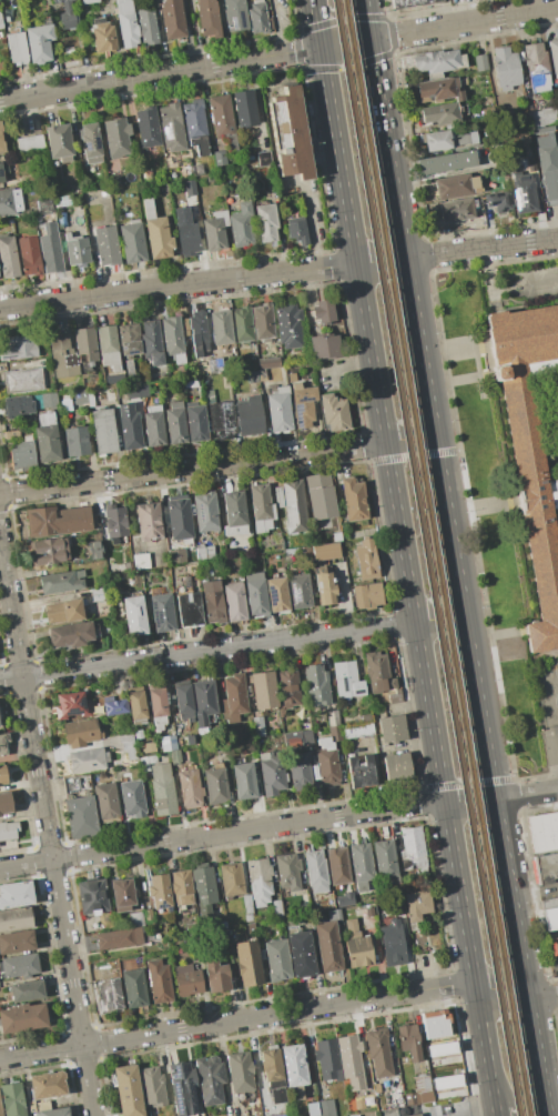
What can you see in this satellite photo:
building: (88, 1)
building: (410, 3)
building: (68, 14)
building: (235, 16)
building: (207, 17)
building: (257, 17)
building: (172, 19)
road: (365, 19)
road: (315, 22)
building: (1, 23)
building: (126, 23)
building: (146, 27)
road: (276, 27)
building: (102, 36)
traffic signals: (369, 39)
building: (38, 43)
traffic signals: (319, 47)
building: (18, 48)
road: (278, 53)
building: (554, 56)
building: (438, 62)
building: (483, 62)
building: (536, 67)
building: (507, 68)
road: (376, 87)
building: (439, 89)
building: (244, 109)
building: (442, 113)
building: (221, 114)
building: (508, 117)
building: (541, 117)
building: (195, 125)
building: (148, 128)
building: (172, 128)
building: (290, 132)
building: (116, 137)
building: (449, 139)
building: (1, 141)
building: (29, 143)
building: (59, 143)
building: (90, 145)
building: (220, 158)
building: (264, 161)
building: (448, 162)
building: (548, 163)
building: (532, 164)
building: (3, 169)
building: (148, 175)
building: (115, 181)
building: (455, 185)
building: (181, 189)
road: (395, 195)
building: (525, 195)
building: (95, 197)
building: (10, 201)
building: (63, 201)
building: (498, 201)
building: (44, 205)
building: (456, 210)
building: (79, 213)
building: (61, 219)
building: (266, 222)
building: (242, 225)
road: (310, 227)
building: (296, 229)
building: (215, 231)
building: (186, 232)
building: (156, 233)
building: (132, 241)
building: (105, 245)
road: (480, 248)
building: (77, 252)
building: (50, 253)
building: (9, 257)
building: (30, 257)
road: (379, 261)
road: (176, 285)
building: (324, 312)
building: (263, 322)
building: (242, 324)
building: (290, 324)
building: (220, 329)
building: (199, 333)
building: (186, 334)
building: (173, 341)
building: (151, 343)
building: (129, 345)
building: (108, 346)
building: (324, 346)
building: (18, 348)
building: (85, 348)
building: (62, 356)
building: (267, 363)
building: (215, 365)
building: (261, 374)
building: (22, 376)
building: (251, 376)
building: (292, 378)
building: (190, 384)
building: (142, 389)
building: (110, 392)
building: (207, 395)
building: (79, 396)
building: (49, 401)
building: (303, 404)
building: (18, 406)
building: (278, 410)
building: (334, 411)
building: (250, 416)
building: (45, 419)
building: (222, 420)
building: (195, 422)
building: (175, 424)
building: (154, 426)
building: (129, 429)
building: (103, 430)
building: (17, 434)
road: (409, 439)
building: (77, 441)
building: (45, 443)
building: (529, 448)
building: (22, 454)
road: (192, 467)
building: (318, 493)
building: (354, 500)
building: (292, 506)
building: (261, 509)
building: (235, 512)
building: (206, 513)
building: (181, 520)
building: (58, 521)
building: (150, 521)
building: (115, 522)
building: (50, 550)
building: (95, 550)
building: (293, 551)
building: (327, 551)
building: (205, 553)
building: (173, 557)
building: (307, 557)
railway: (424, 557)
railway: (434, 557)
building: (367, 560)
building: (142, 563)
road: (406, 579)
building: (62, 582)
building: (327, 589)
building: (298, 591)
building: (99, 593)
building: (255, 594)
building: (277, 595)
building: (368, 597)
road: (4, 600)
building: (213, 601)
building: (235, 601)
building: (187, 606)
building: (75, 610)
building: (162, 613)
building: (134, 615)
road: (439, 617)
building: (71, 634)
road: (206, 651)
building: (377, 671)
building: (346, 680)
building: (317, 685)
road: (550, 685)
road: (476, 686)
building: (288, 687)
building: (263, 693)
building: (233, 697)
building: (387, 697)
building: (184, 702)
building: (203, 703)
building: (71, 705)
building: (135, 705)
building: (114, 707)
building: (156, 707)
building: (0, 713)
building: (333, 718)
building: (263, 730)
building: (392, 730)
building: (357, 731)
building: (82, 732)
road: (550, 732)
building: (297, 738)
building: (190, 740)
building: (168, 743)
building: (4, 744)
building: (129, 745)
building: (149, 747)
building: (328, 757)
building: (87, 760)
building: (144, 765)
building: (396, 766)
building: (271, 772)
building: (301, 772)
building: (361, 772)
building: (2, 775)
road: (376, 776)
building: (185, 778)
building: (244, 780)
building: (82, 782)
building: (215, 783)
building: (162, 790)
road: (526, 794)
building: (132, 798)
road: (469, 801)
building: (105, 802)
building: (4, 804)
building: (79, 814)
road: (47, 828)
building: (8, 830)
building: (544, 831)
road: (221, 833)
building: (413, 851)
building: (386, 863)
building: (361, 865)
building: (337, 867)
building: (546, 867)
building: (287, 871)
building: (315, 872)
building: (231, 881)
building: (260, 881)
building: (181, 888)
building: (203, 889)
building: (160, 892)
building: (16, 894)
building: (121, 894)
building: (92, 896)
building: (246, 904)
building: (416, 905)
building: (277, 909)
building: (378, 911)
building: (369, 912)
building: (336, 914)
building: (149, 916)
building: (248, 917)
building: (16, 918)
building: (550, 918)
building: (135, 919)
building: (217, 925)
building: (219, 936)
building: (119, 938)
building: (16, 942)
building: (393, 943)
building: (327, 945)
building: (357, 945)
building: (552, 945)
building: (301, 954)
building: (277, 961)
building: (248, 963)
building: (19, 965)
road: (556, 968)
building: (216, 976)
building: (186, 979)
building: (158, 982)
building: (133, 988)
road: (500, 988)
building: (27, 991)
road: (542, 993)
building: (110, 994)
building: (23, 1018)
road: (236, 1018)
building: (435, 1024)
building: (409, 1042)
building: (378, 1053)
road: (256, 1058)
building: (327, 1059)
building: (352, 1062)
building: (294, 1070)
building: (436, 1074)
building: (273, 1075)
building: (241, 1076)
building: (210, 1079)
building: (394, 1083)
building: (47, 1085)
building: (152, 1087)
building: (182, 1088)
building: (128, 1090)
building: (419, 1092)
building: (11, 1099)
building: (364, 1102)
building: (38, 1106)
building: (319, 1108)
building: (0, 1110)
building: (53, 1112)
road: (483, 1114)
road: (495, 1114)
building: (284, 1115)
building: (355, 1115)
building: (414, 1115)

